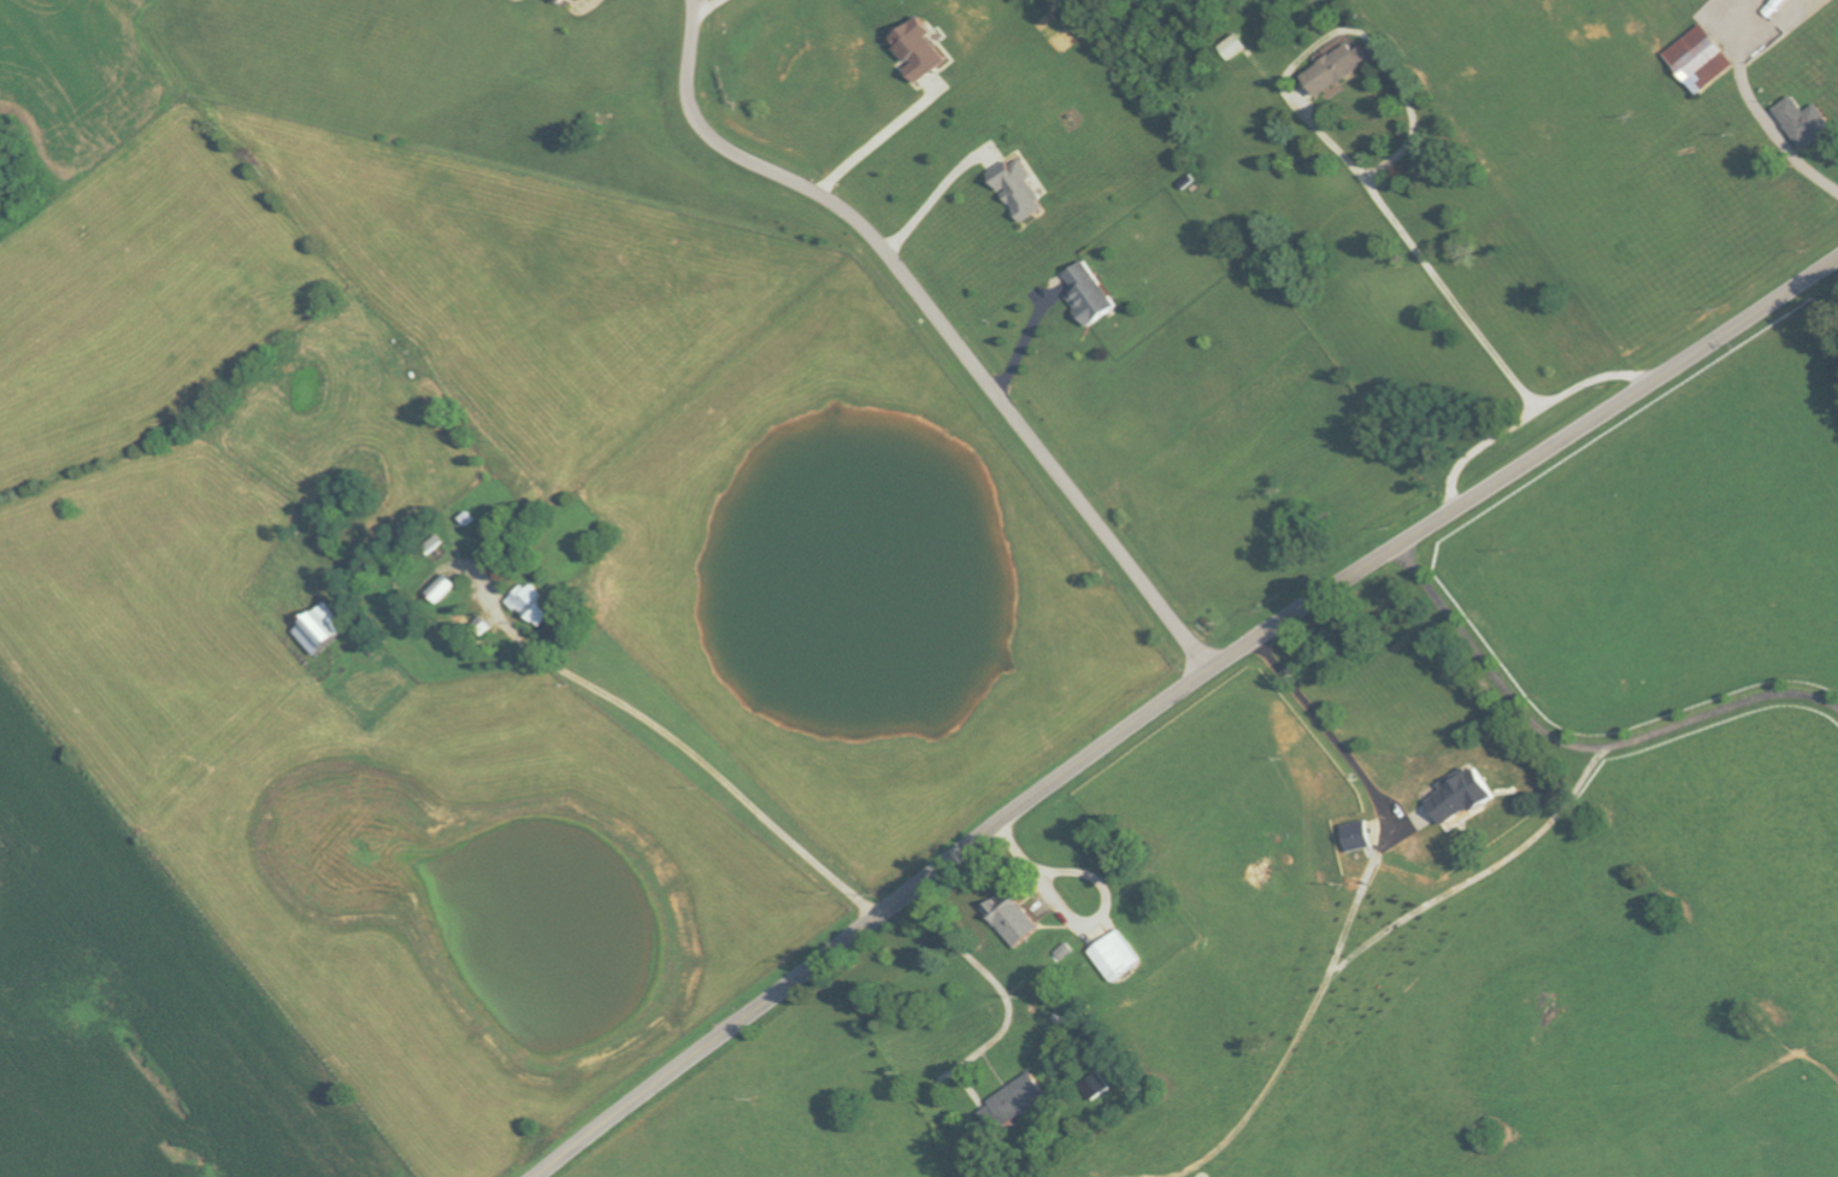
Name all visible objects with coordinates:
building: (562, 1)
road: (709, 8)
building: (920, 51)
building: (1703, 59)
building: (1338, 69)
building: (1807, 122)
road: (1326, 131)
road: (1779, 141)
road: (873, 143)
building: (1021, 189)
road: (932, 200)
building: (1091, 294)
road: (941, 322)
road: (1029, 339)
road: (1531, 416)
building: (535, 605)
building: (322, 629)
road: (1174, 698)
road: (1329, 728)
road: (674, 737)
road: (1577, 748)
building: (1462, 796)
building: (1359, 837)
building: (1015, 917)
road: (1080, 926)
building: (1119, 955)
road: (1003, 989)
building: (1100, 1085)
building: (1018, 1101)

